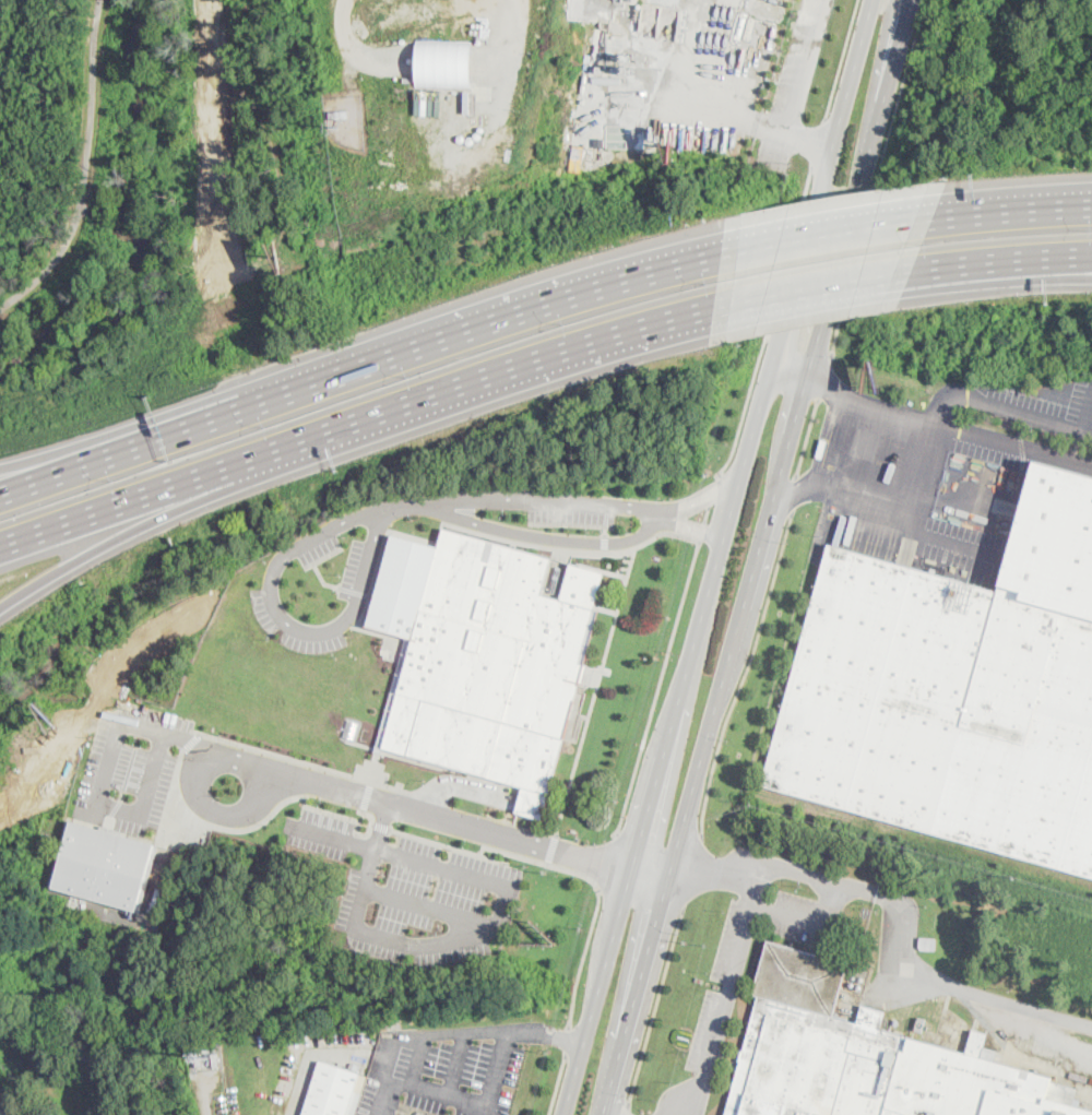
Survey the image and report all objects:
road: (841, 59)
road: (885, 59)
building: (444, 62)
building: (340, 115)
road: (747, 117)
road: (810, 138)
road: (818, 143)
road: (85, 169)
road: (875, 178)
road: (1028, 199)
road: (1028, 209)
road: (950, 212)
road: (822, 227)
road: (1009, 257)
road: (1066, 259)
road: (820, 281)
road: (767, 322)
road: (471, 327)
road: (791, 371)
road: (823, 379)
road: (868, 406)
road: (1087, 415)
road: (356, 416)
road: (1024, 416)
road: (118, 431)
road: (806, 439)
road: (119, 455)
road: (924, 456)
road: (844, 485)
road: (792, 496)
road: (200, 499)
road: (573, 501)
road: (701, 501)
road: (709, 507)
road: (641, 510)
road: (571, 524)
road: (693, 530)
road: (606, 532)
road: (606, 544)
road: (538, 545)
road: (719, 557)
road: (759, 557)
road: (348, 618)
road: (605, 660)
building: (485, 661)
road: (744, 676)
road: (656, 690)
building: (957, 691)
road: (397, 802)
road: (98, 804)
road: (222, 815)
road: (382, 825)
road: (381, 827)
railway: (921, 835)
road: (494, 849)
road: (553, 850)
road: (495, 861)
road: (605, 863)
building: (104, 866)
road: (712, 874)
road: (690, 875)
road: (650, 877)
road: (430, 909)
road: (809, 920)
road: (437, 941)
building: (929, 945)
road: (906, 954)
road: (582, 958)
building: (854, 977)
building: (862, 980)
building: (852, 985)
building: (859, 987)
road: (724, 998)
road: (653, 1008)
road: (1047, 1031)
road: (468, 1035)
road: (566, 1042)
building: (866, 1058)
road: (420, 1061)
road: (456, 1066)
road: (557, 1086)
building: (334, 1091)
road: (455, 1100)
road: (14, 1107)
road: (627, 1111)

